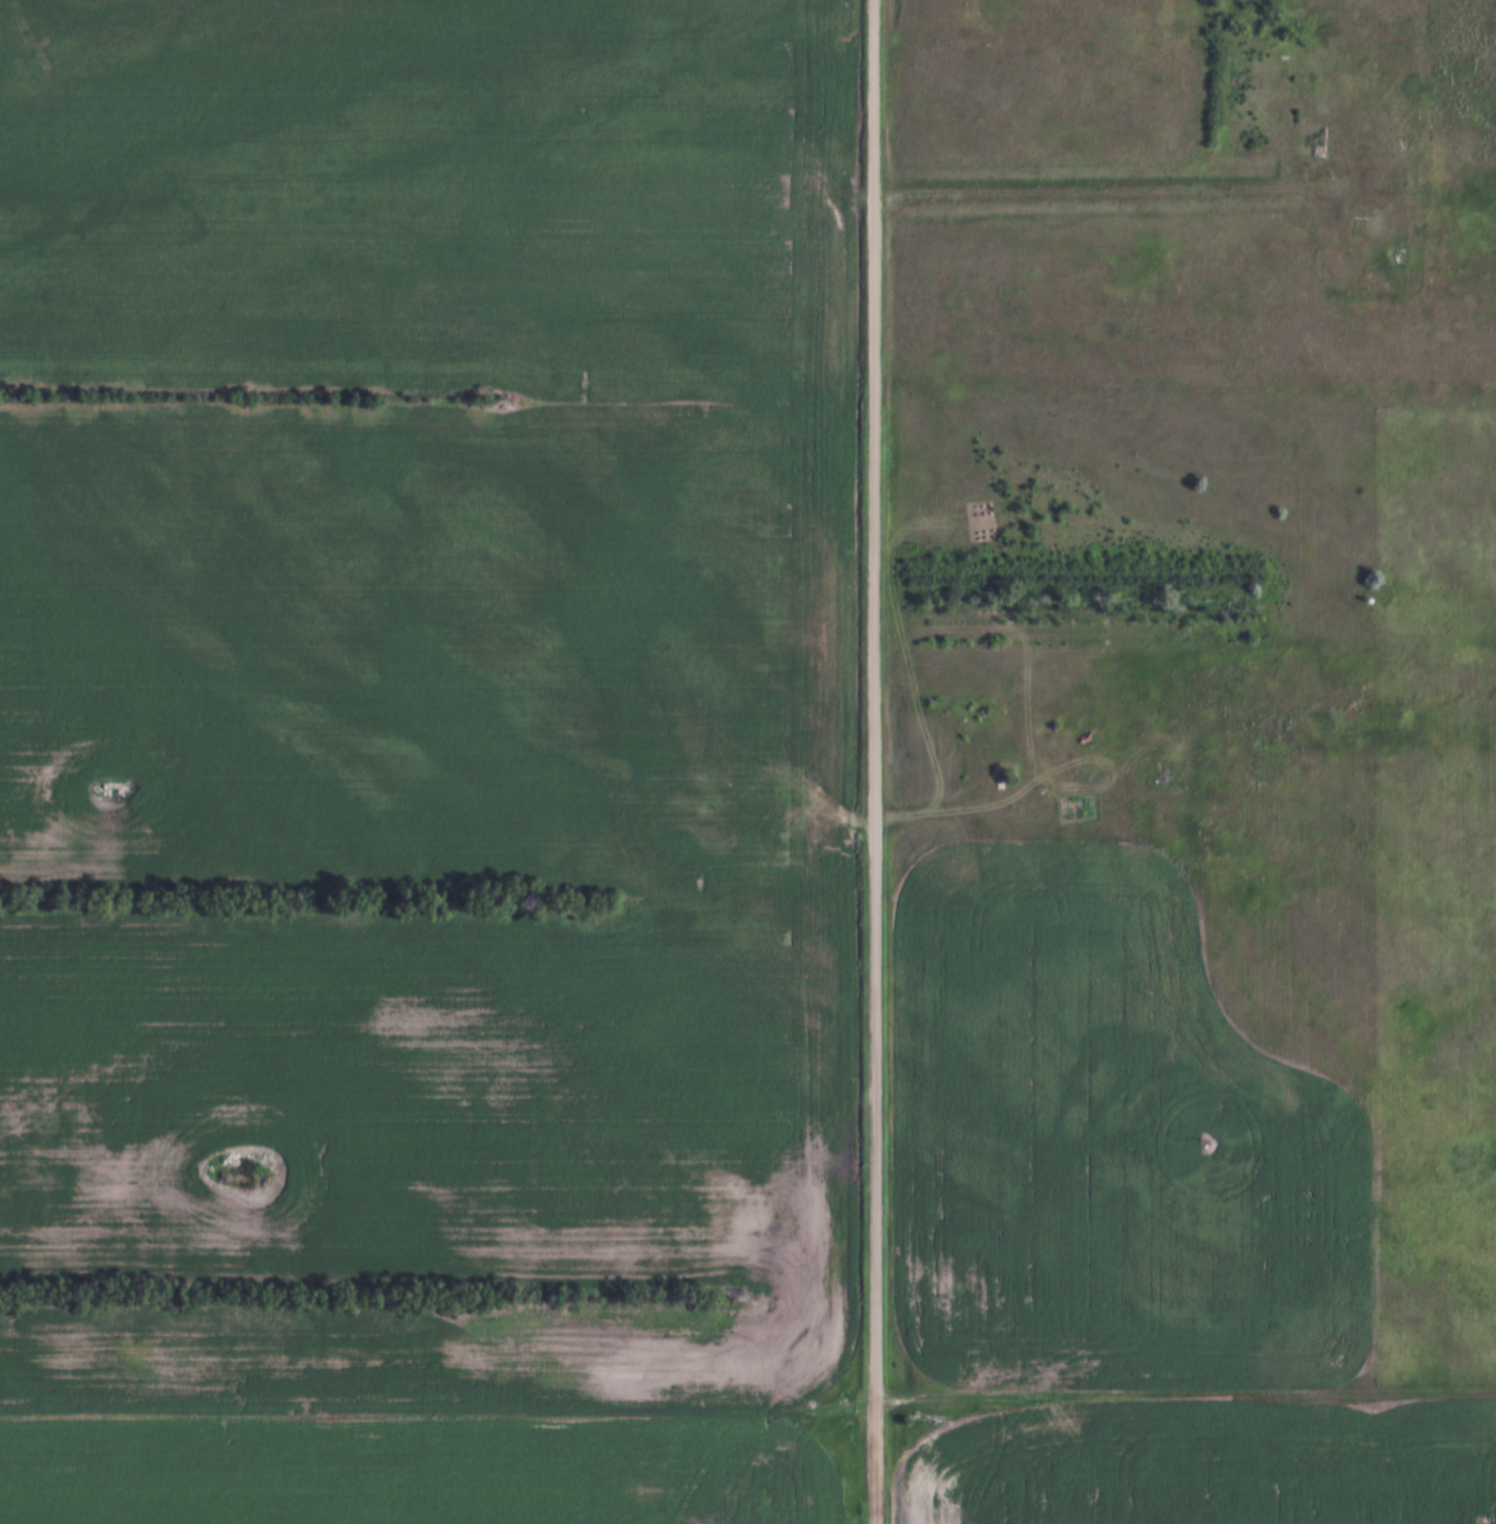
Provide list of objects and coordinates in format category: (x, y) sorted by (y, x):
road: (1106, 188)
road: (873, 702)
road: (748, 1402)
road: (875, 1464)

